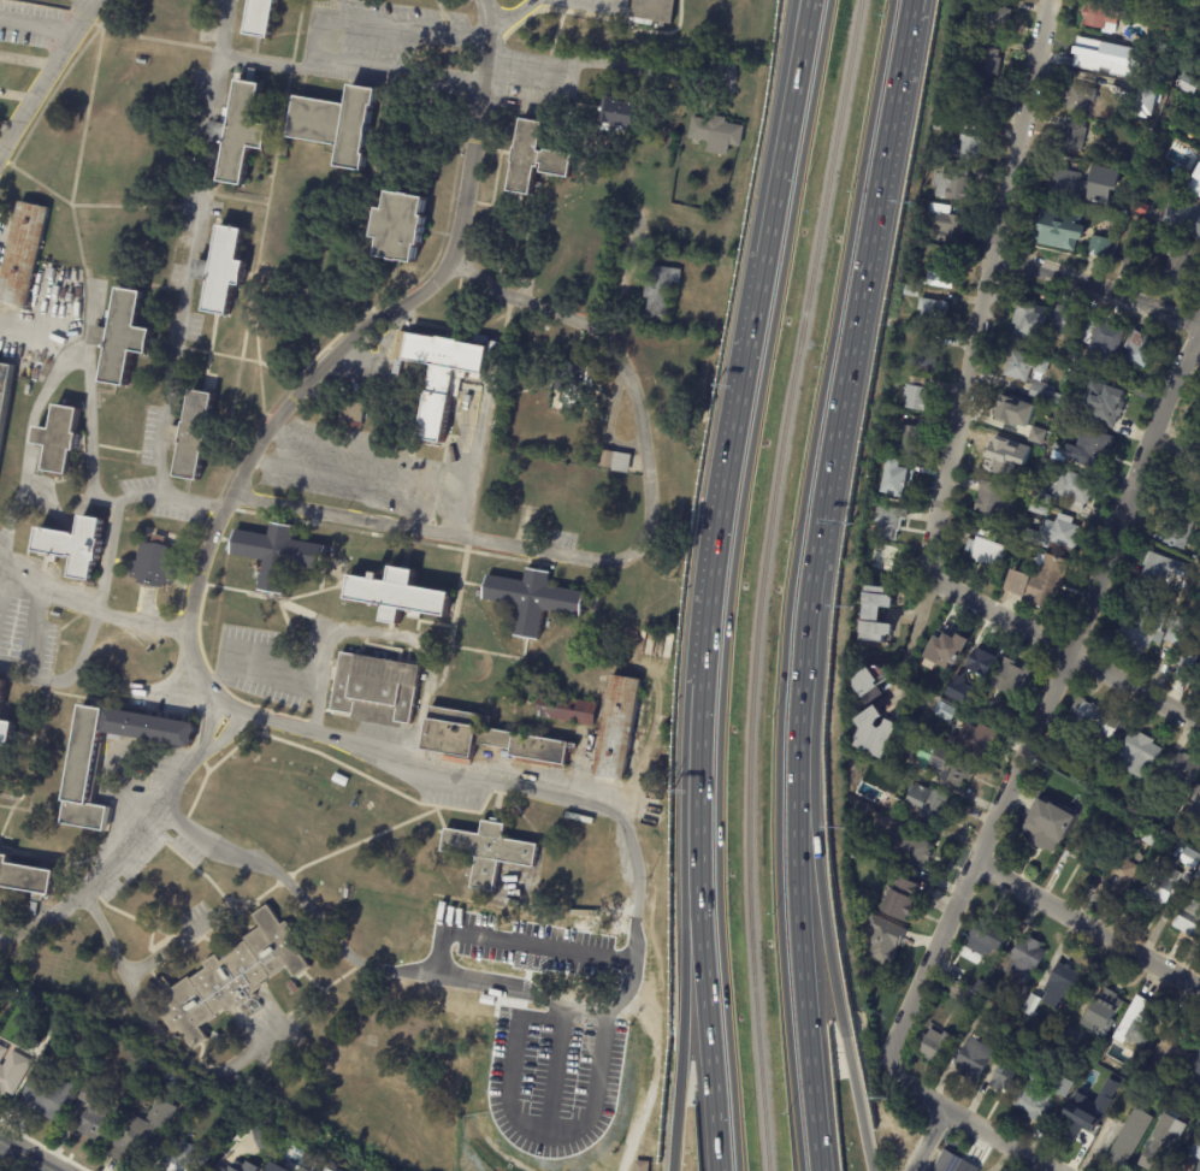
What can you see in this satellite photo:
road: (499, 10)
building: (649, 12)
building: (1093, 14)
building: (262, 18)
road: (333, 18)
building: (994, 19)
road: (37, 22)
building: (1163, 24)
road: (798, 26)
road: (802, 26)
building: (1009, 46)
building: (1092, 55)
building: (989, 59)
road: (597, 66)
road: (394, 67)
road: (46, 76)
building: (1164, 83)
building: (1188, 83)
building: (980, 96)
building: (1078, 97)
building: (1142, 102)
building: (942, 111)
building: (619, 114)
building: (337, 123)
building: (940, 125)
building: (243, 130)
building: (717, 132)
building: (1071, 135)
building: (971, 148)
building: (284, 149)
road: (779, 152)
building: (537, 156)
building: (1131, 159)
building: (1195, 159)
building: (687, 162)
building: (933, 164)
building: (1082, 184)
building: (953, 185)
building: (1196, 187)
building: (1184, 219)
building: (946, 224)
building: (402, 225)
building: (1057, 229)
road: (189, 247)
building: (1098, 247)
building: (23, 254)
building: (1131, 259)
building: (1176, 264)
building: (224, 270)
building: (939, 273)
road: (864, 284)
road: (983, 286)
building: (662, 291)
building: (911, 291)
road: (1095, 292)
building: (933, 312)
building: (1066, 321)
building: (1028, 323)
building: (124, 336)
building: (1104, 344)
building: (1137, 348)
road: (337, 349)
building: (927, 356)
building: (1072, 359)
building: (1022, 366)
building: (447, 373)
building: (1075, 378)
building: (579, 383)
road: (84, 386)
building: (5, 394)
building: (914, 394)
building: (1045, 396)
building: (1111, 404)
building: (1013, 409)
building: (349, 412)
building: (1059, 421)
building: (194, 434)
building: (1035, 434)
building: (908, 439)
building: (59, 440)
building: (1094, 450)
building: (999, 455)
building: (619, 461)
building: (1052, 475)
building: (895, 480)
building: (1071, 490)
road: (166, 495)
building: (1040, 497)
building: (992, 498)
building: (1036, 510)
building: (886, 522)
building: (1178, 531)
building: (1052, 533)
building: (24, 536)
road: (713, 542)
building: (75, 545)
building: (985, 551)
building: (280, 554)
road: (625, 554)
building: (881, 557)
building: (1194, 557)
building: (158, 564)
building: (1163, 568)
road: (731, 581)
railway: (761, 581)
road: (791, 581)
road: (7, 584)
building: (1038, 584)
building: (400, 595)
building: (534, 599)
road: (87, 610)
building: (874, 616)
road: (22, 626)
road: (916, 628)
building: (1140, 632)
building: (1175, 632)
road: (384, 635)
road: (1063, 647)
building: (947, 650)
road: (805, 652)
building: (1184, 663)
building: (977, 666)
building: (1009, 679)
building: (1196, 681)
building: (868, 685)
building: (379, 688)
building: (938, 690)
building: (959, 690)
building: (921, 697)
building: (946, 699)
building: (2, 700)
road: (1047, 700)
building: (567, 710)
building: (945, 714)
building: (982, 715)
building: (1095, 720)
building: (619, 728)
road: (208, 731)
building: (875, 733)
road: (218, 735)
building: (487, 738)
building: (917, 741)
building: (975, 743)
building: (1136, 755)
building: (1064, 768)
building: (948, 770)
building: (1178, 774)
building: (84, 775)
building: (1076, 775)
building: (1089, 782)
road: (510, 785)
building: (1038, 793)
building: (928, 806)
building: (1192, 808)
building: (1131, 827)
building: (1044, 828)
building: (1092, 845)
building: (905, 848)
building: (490, 852)
building: (1188, 859)
road: (108, 863)
building: (468, 863)
building: (1122, 867)
building: (1198, 875)
building: (26, 880)
building: (1158, 887)
building: (348, 894)
building: (900, 898)
building: (36, 909)
building: (1187, 918)
road: (1087, 925)
road: (514, 935)
building: (882, 938)
building: (985, 939)
road: (162, 948)
road: (802, 953)
road: (829, 954)
park: (72, 957)
building: (1027, 960)
road: (365, 963)
building: (230, 978)
building: (973, 983)
building: (1064, 983)
building: (296, 987)
road: (681, 1004)
road: (707, 1004)
building: (1031, 1005)
building: (1105, 1009)
building: (1006, 1018)
building: (1080, 1018)
building: (1136, 1022)
road: (156, 1041)
building: (58, 1045)
building: (935, 1045)
building: (1168, 1052)
building: (974, 1053)
building: (1198, 1055)
building: (122, 1057)
building: (1198, 1069)
building: (16, 1074)
building: (1123, 1074)
building: (1003, 1078)
building: (1060, 1086)
building: (1198, 1086)
building: (1160, 1092)
building: (53, 1096)
building: (1031, 1099)
building: (1076, 1108)
building: (1192, 1112)
building: (100, 1116)
road: (968, 1122)
building: (146, 1132)
building: (267, 1137)
building: (1128, 1137)
road: (927, 1140)
building: (1160, 1141)
building: (1195, 1153)
road: (25, 1157)
building: (185, 1159)
building: (951, 1161)
building: (244, 1166)
building: (640, 1166)
building: (274, 1167)
building: (223, 1170)
building: (323, 1170)

